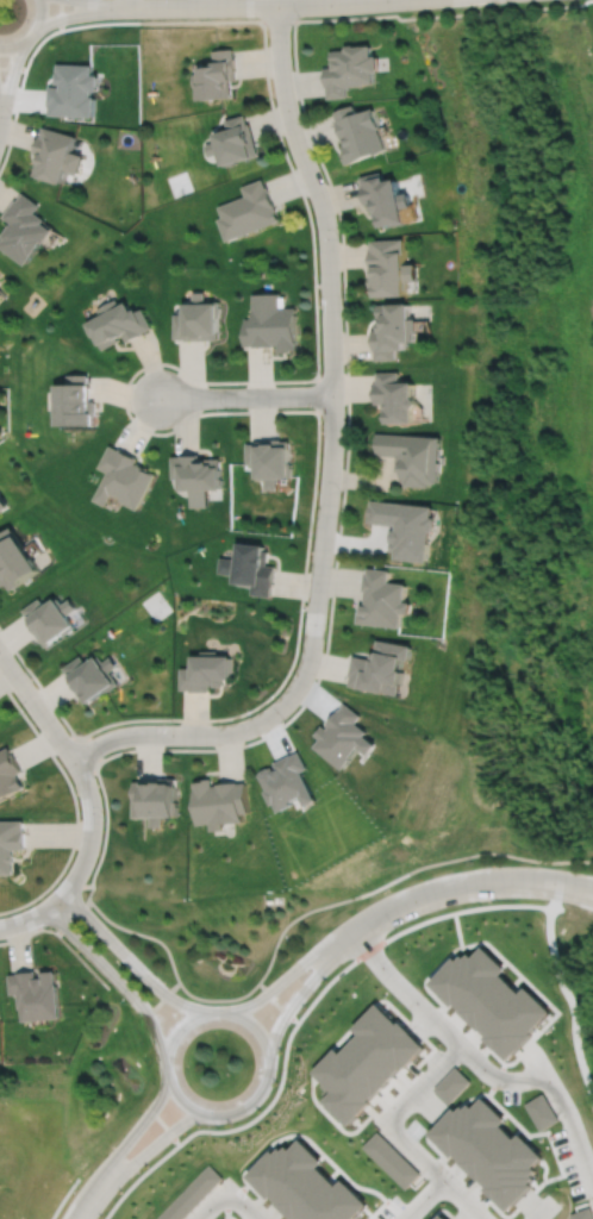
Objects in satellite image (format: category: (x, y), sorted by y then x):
road: (93, 4)
road: (251, 6)
road: (61, 15)
road: (73, 15)
road: (280, 20)
road: (32, 33)
road: (32, 55)
road: (13, 68)
building: (349, 71)
building: (217, 75)
road: (10, 81)
building: (71, 92)
building: (358, 133)
building: (233, 139)
building: (56, 154)
building: (385, 198)
road: (336, 205)
building: (248, 211)
building: (24, 227)
building: (389, 267)
building: (1, 280)
building: (198, 319)
building: (117, 324)
building: (271, 324)
building: (393, 330)
road: (245, 395)
road: (318, 395)
building: (395, 398)
building: (73, 402)
road: (125, 405)
building: (412, 457)
building: (270, 461)
road: (331, 468)
building: (196, 476)
building: (123, 479)
building: (2, 505)
building: (405, 529)
building: (13, 562)
building: (250, 569)
building: (381, 601)
building: (49, 620)
building: (380, 670)
building: (206, 673)
building: (90, 679)
road: (36, 681)
road: (85, 751)
road: (99, 759)
road: (76, 765)
building: (10, 773)
building: (155, 799)
building: (220, 801)
road: (74, 805)
building: (11, 843)
road: (567, 882)
road: (567, 892)
road: (427, 895)
road: (35, 914)
road: (285, 929)
road: (61, 938)
road: (129, 958)
road: (114, 977)
road: (277, 982)
building: (37, 993)
building: (493, 998)
road: (293, 1002)
road: (262, 1033)
building: (367, 1061)
road: (480, 1064)
building: (452, 1084)
road: (269, 1105)
building: (542, 1111)
road: (135, 1131)
road: (397, 1132)
road: (152, 1146)
building: (491, 1149)
building: (392, 1158)
building: (305, 1184)
building: (189, 1194)
road: (63, 1196)
road: (87, 1198)
road: (463, 1199)
road: (212, 1202)
road: (244, 1202)
road: (545, 1209)
building: (582, 1214)
building: (441, 1217)

